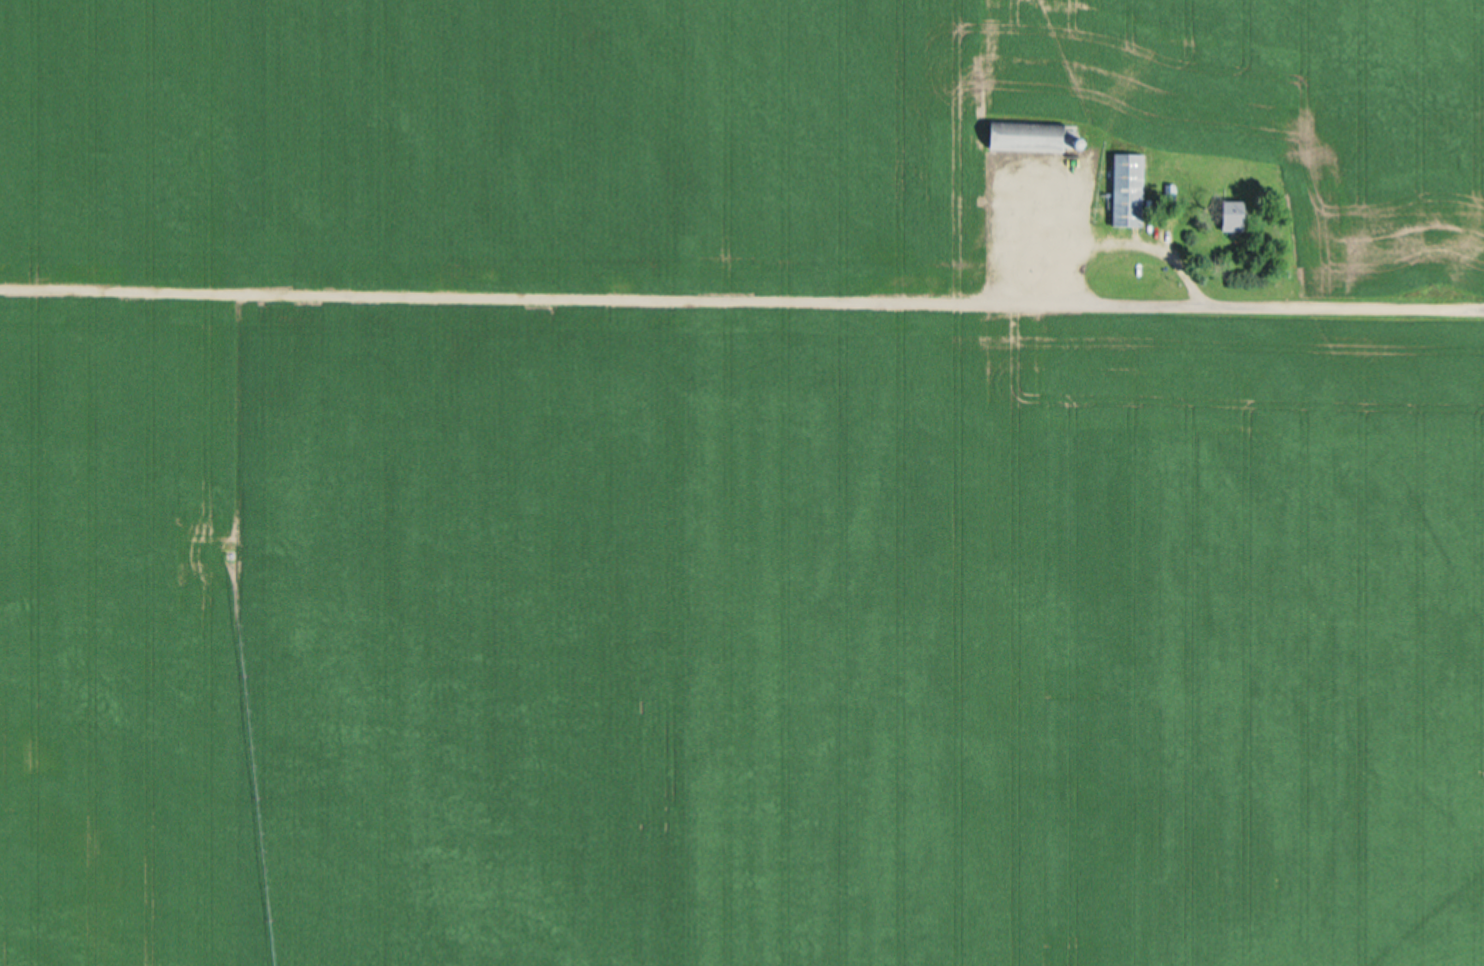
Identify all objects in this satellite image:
building: (1033, 134)
building: (1133, 189)
building: (1237, 215)
road: (1118, 243)
road: (1224, 308)
crop: (742, 483)

